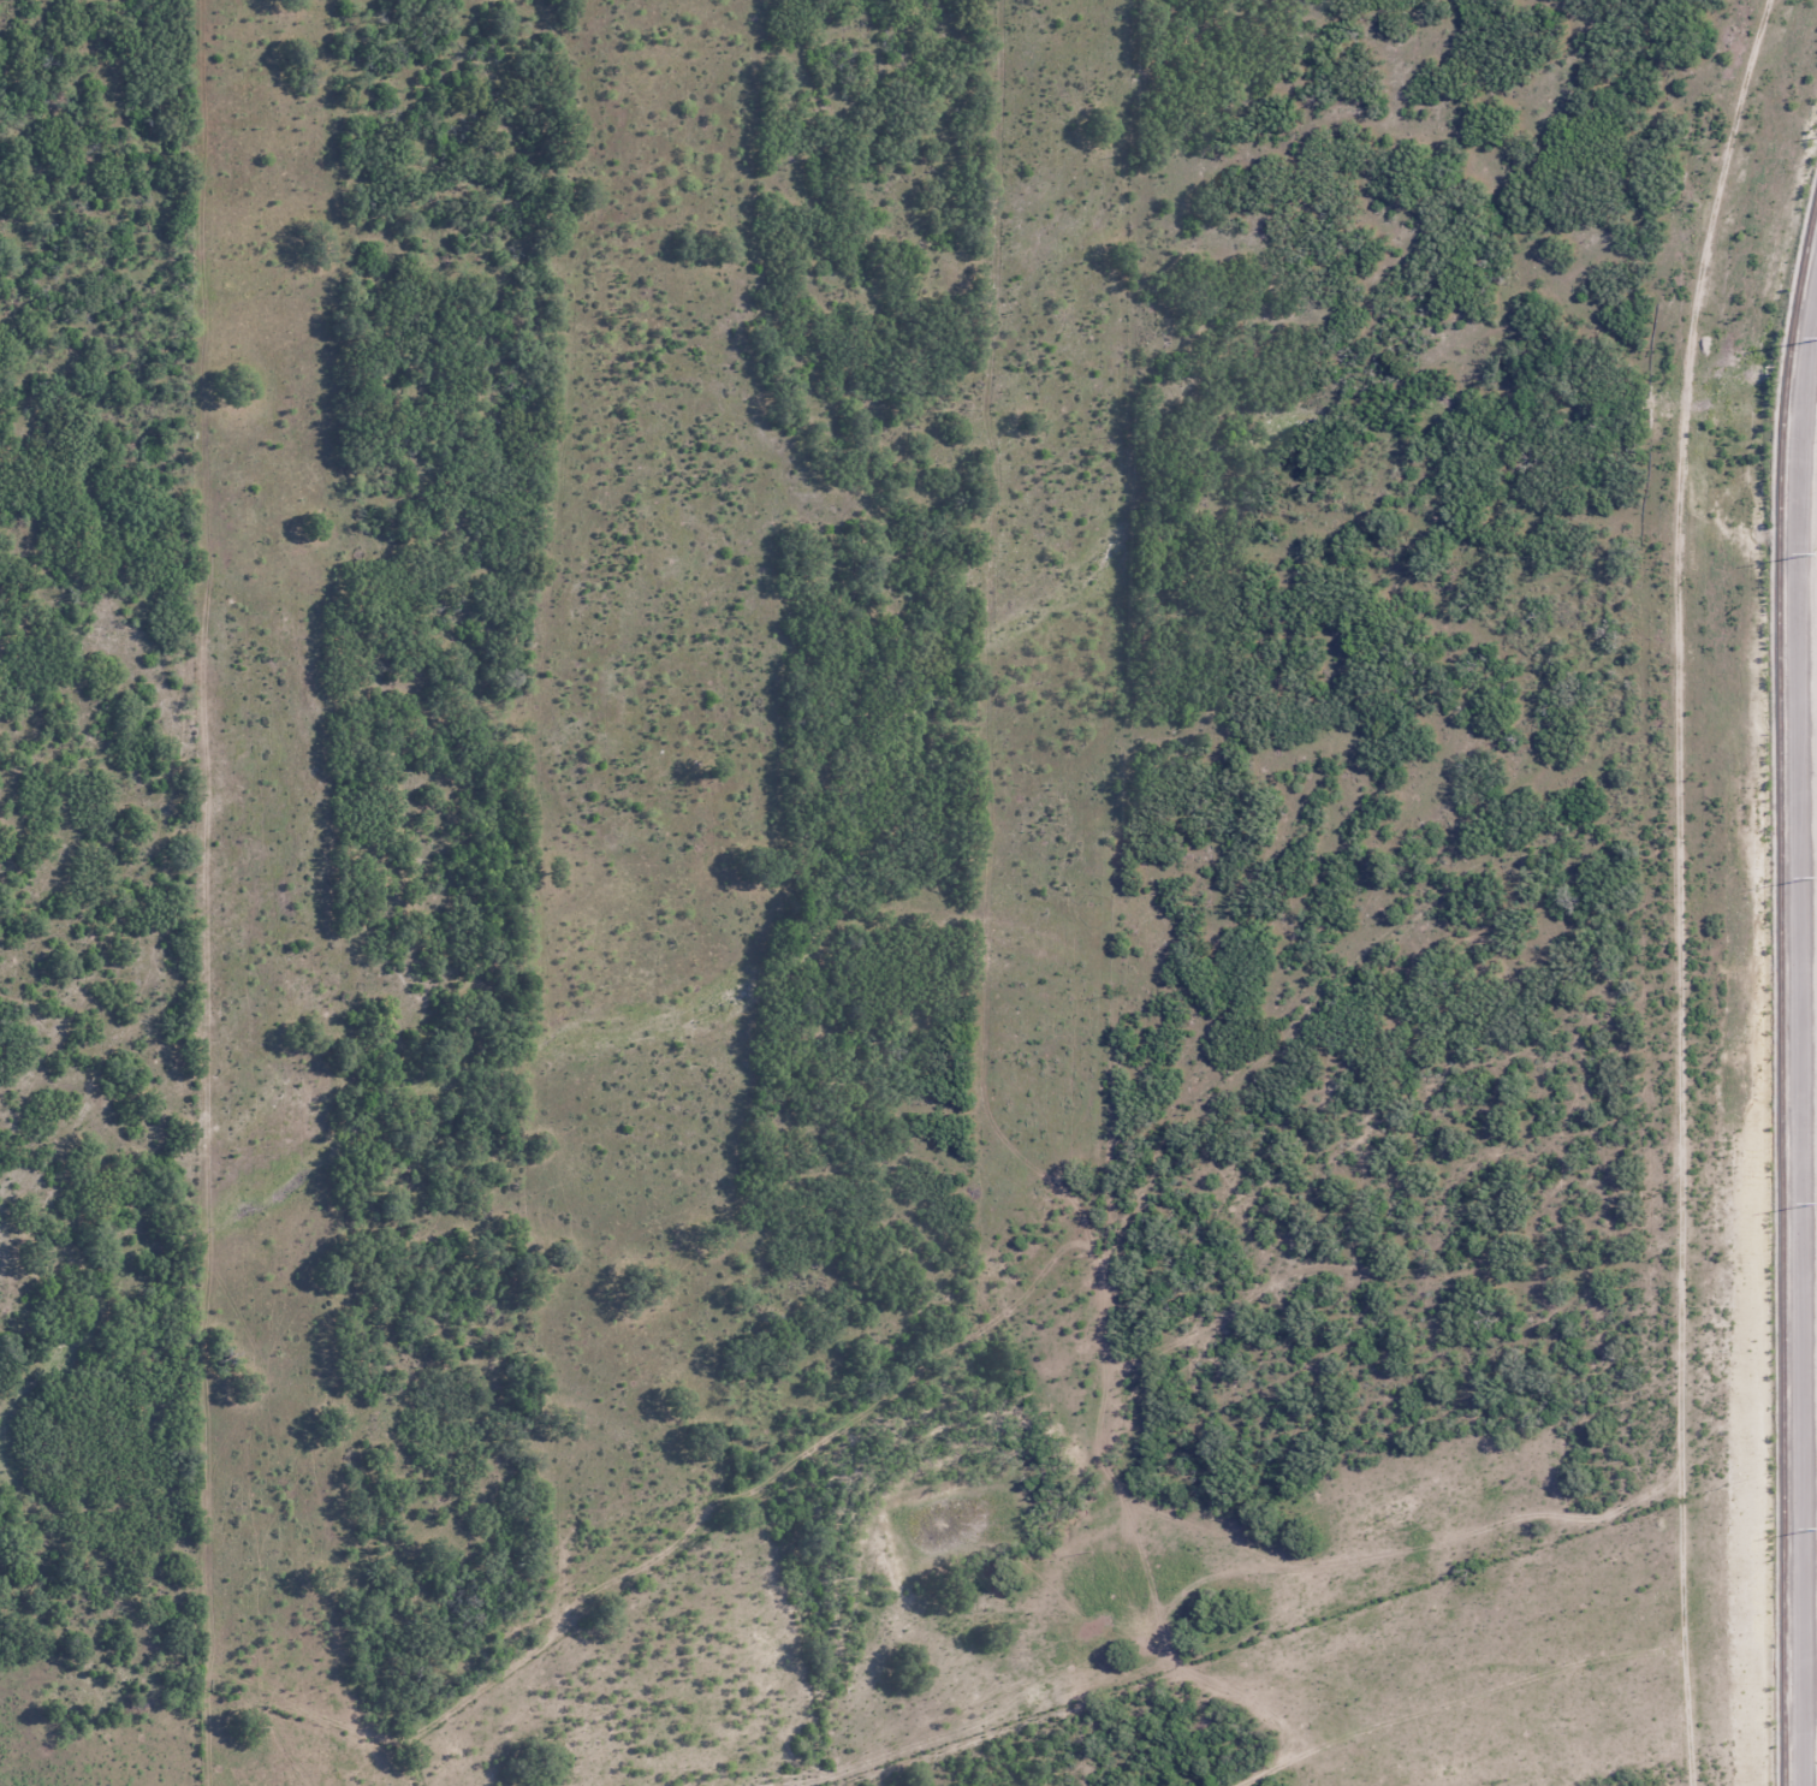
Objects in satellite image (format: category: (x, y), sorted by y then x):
power tower: (1816, 554)
power tower: (1816, 876)
railway: (1785, 999)
road: (1804, 1040)

